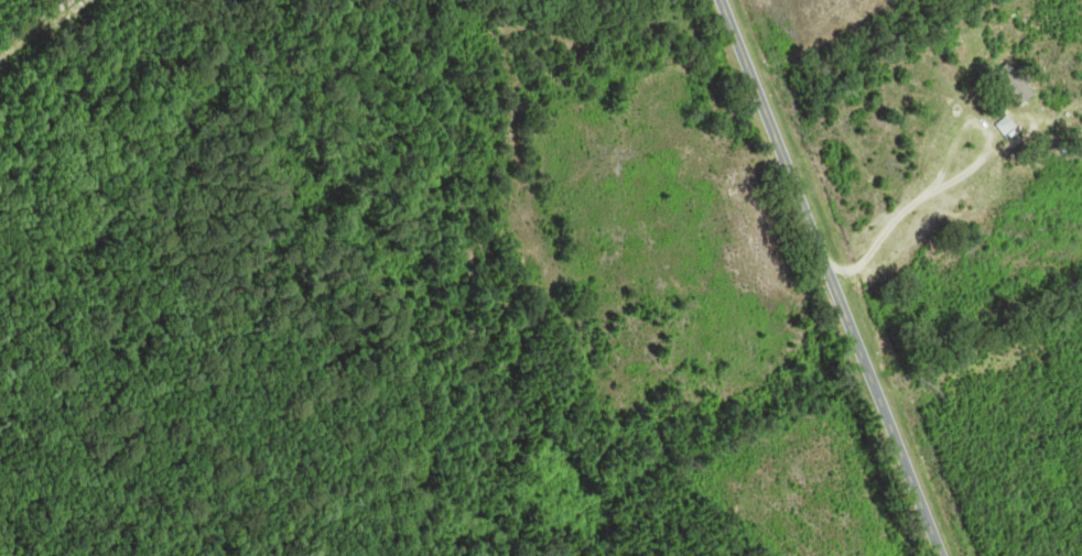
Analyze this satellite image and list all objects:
building: (1020, 84)
road: (956, 178)
road: (831, 277)

